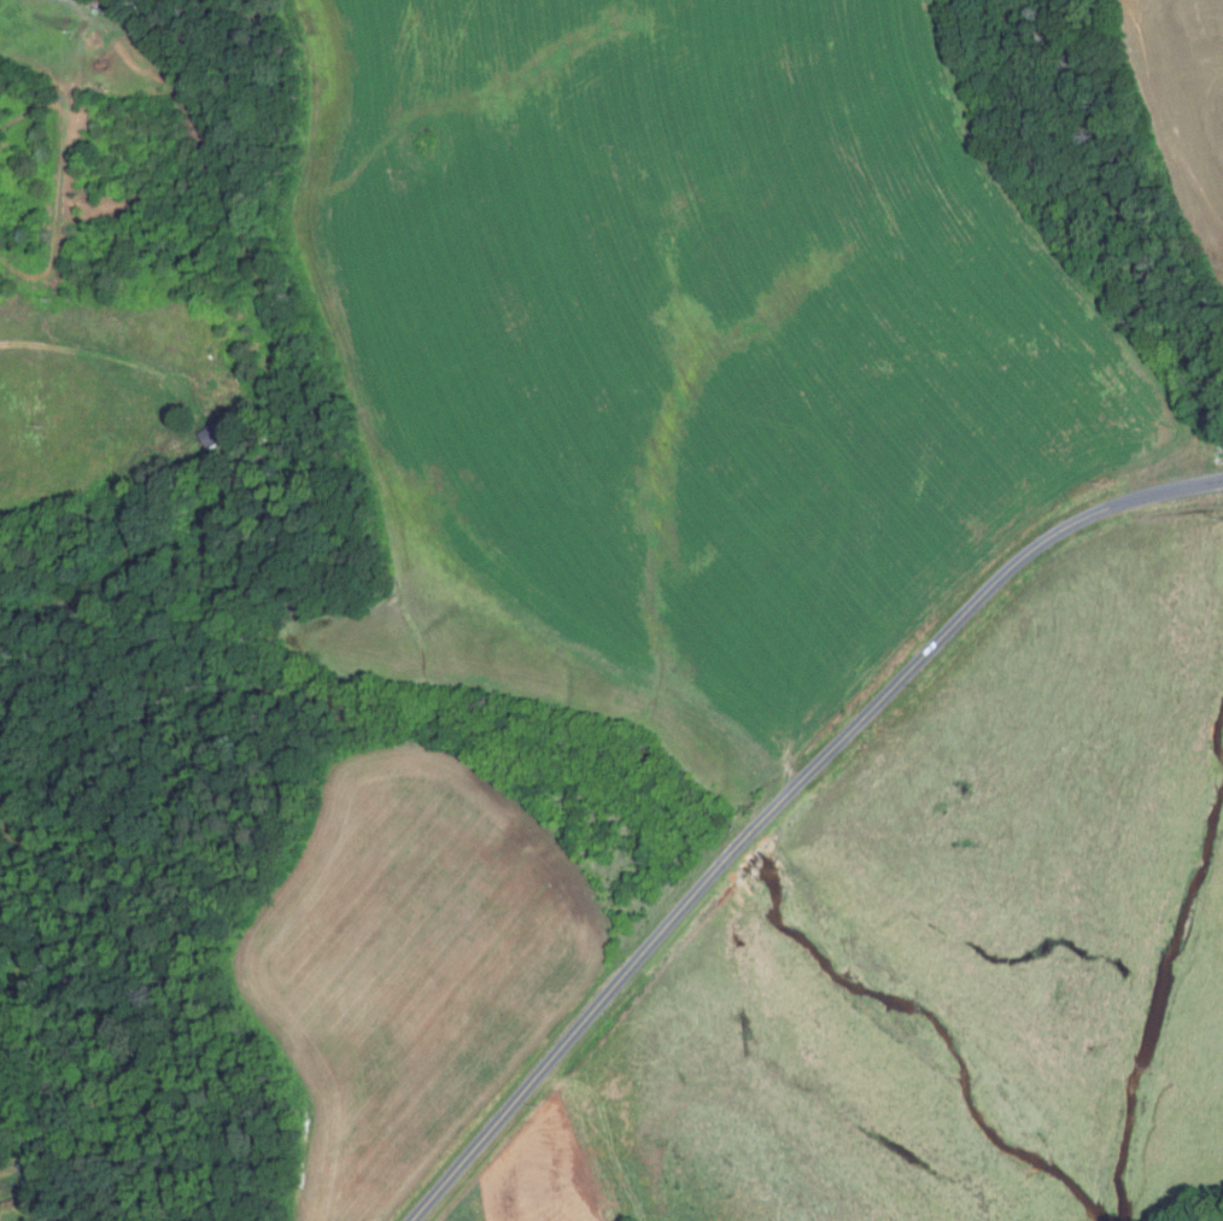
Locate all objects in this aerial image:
road: (987, 590)
road: (603, 999)

